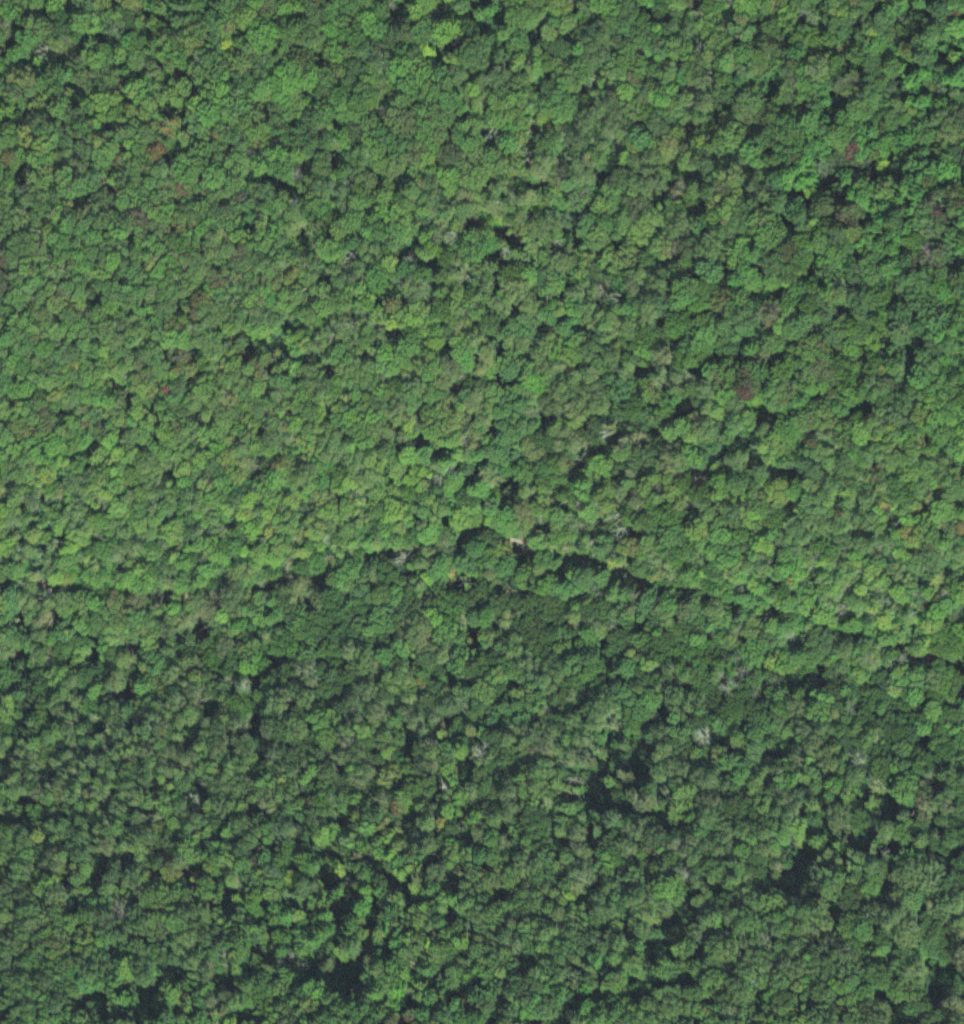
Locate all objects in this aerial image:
road: (487, 535)

